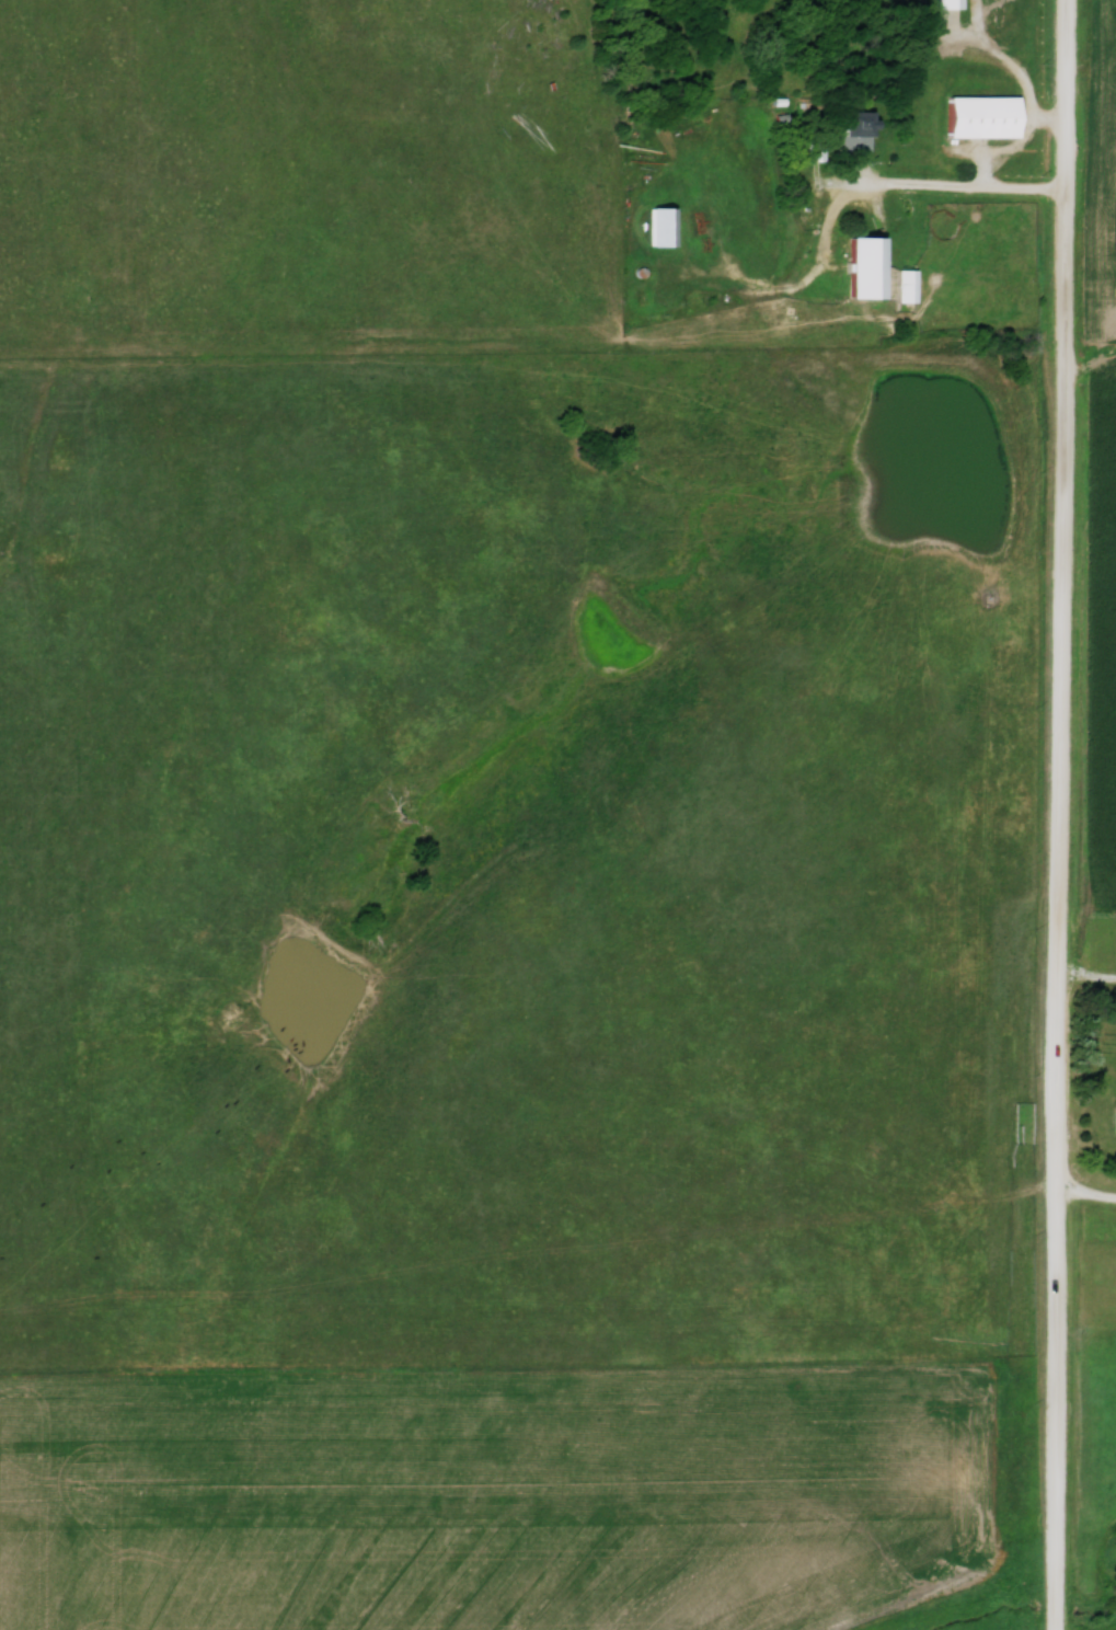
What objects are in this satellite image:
building: (944, 4)
building: (983, 127)
building: (853, 129)
road: (947, 193)
building: (659, 226)
building: (859, 266)
building: (905, 285)
road: (1063, 815)
building: (1114, 1120)
road: (1086, 1196)

